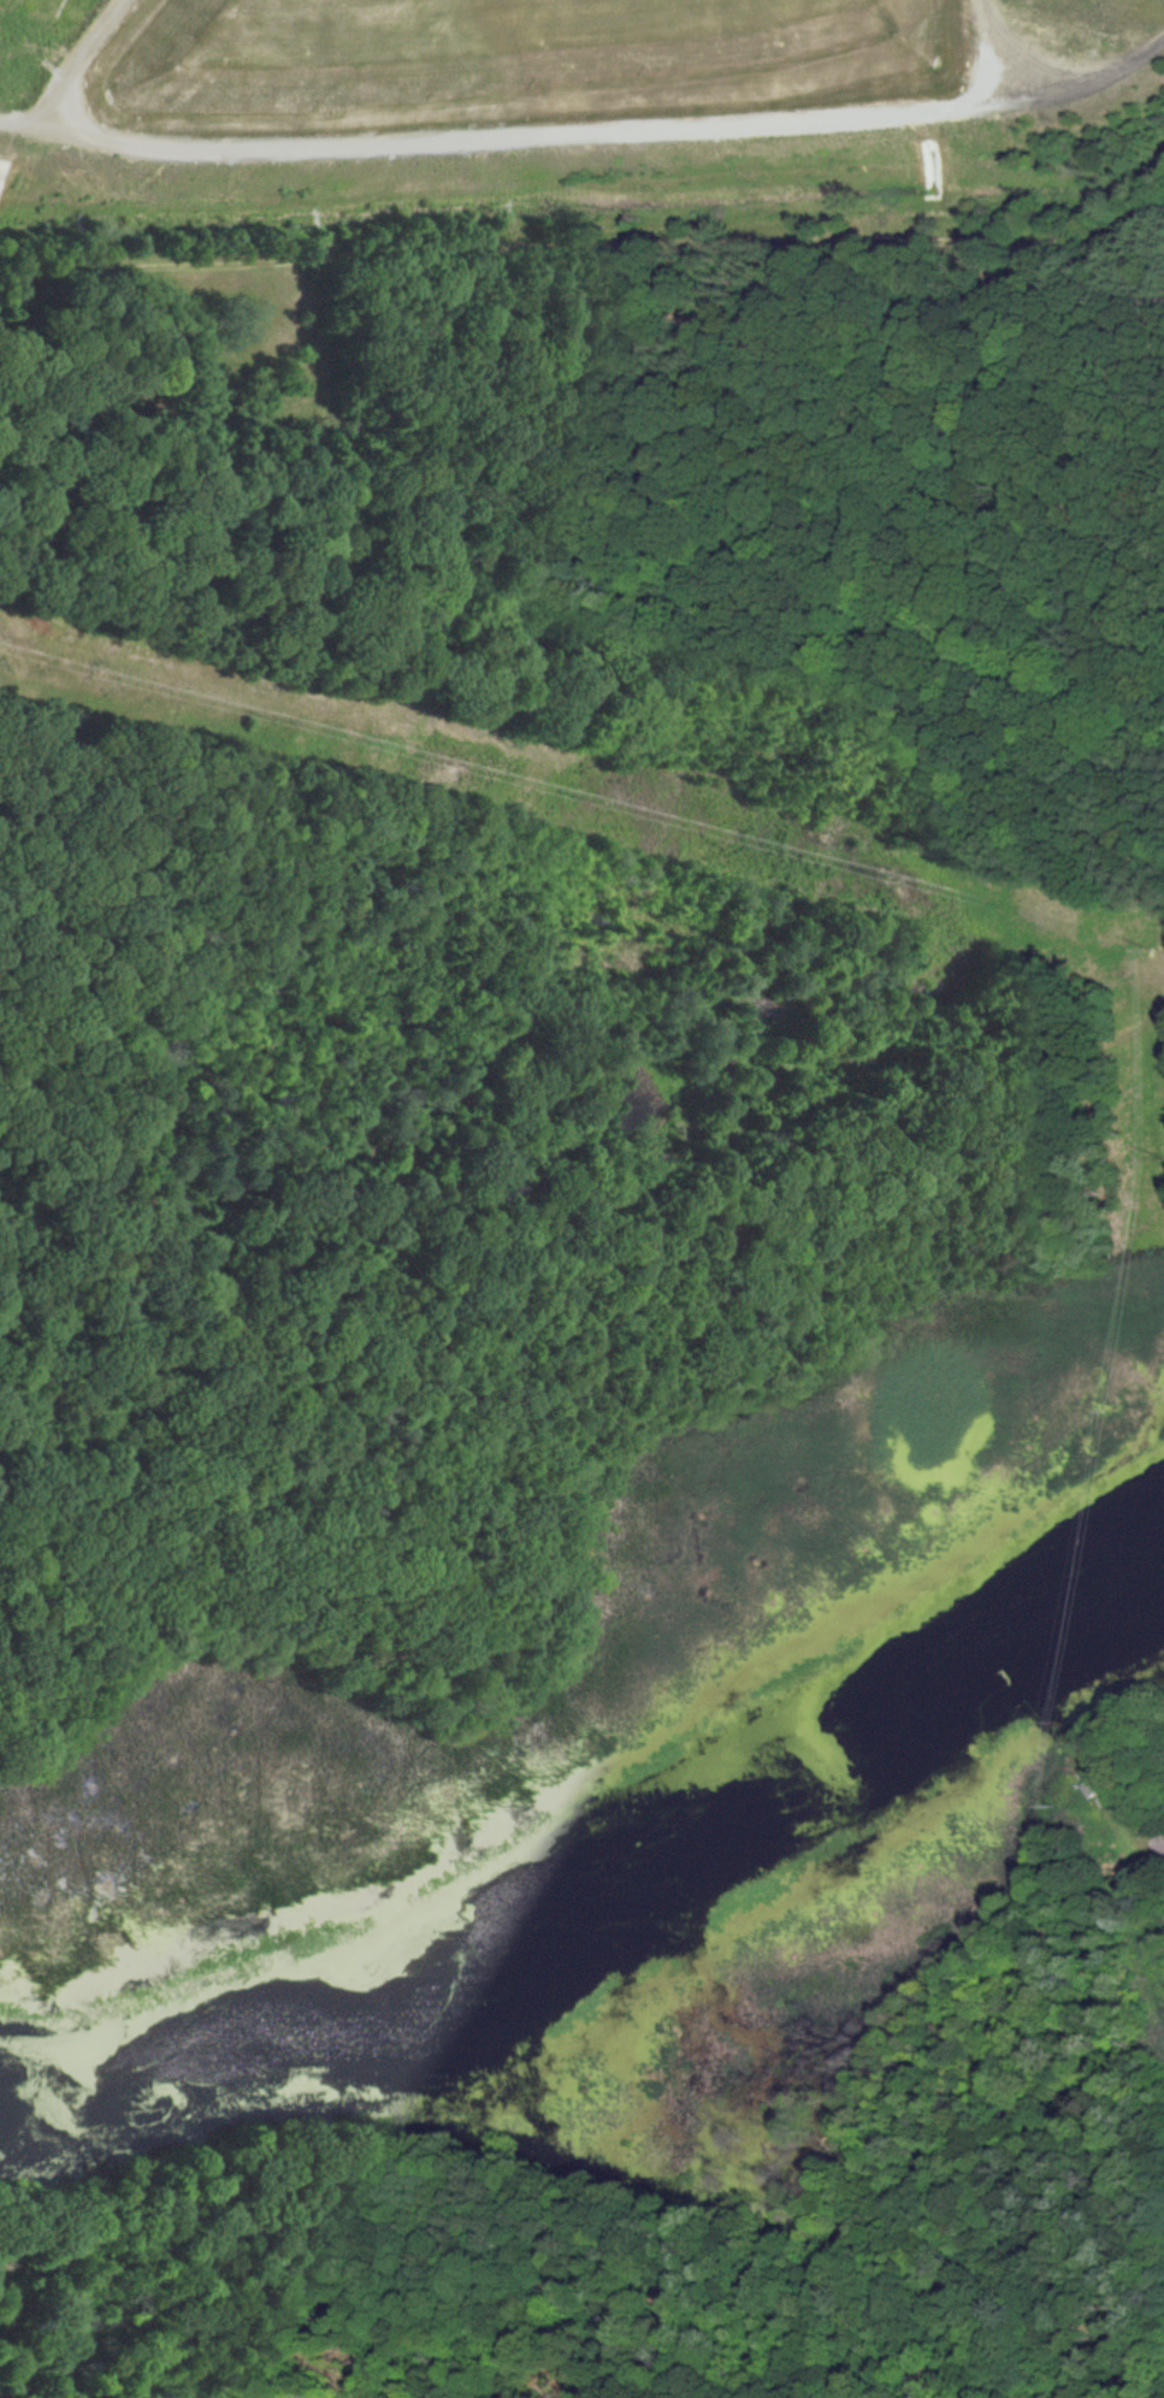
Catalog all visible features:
park: (1150, 1843)
road: (1160, 1843)
river: (607, 1878)

